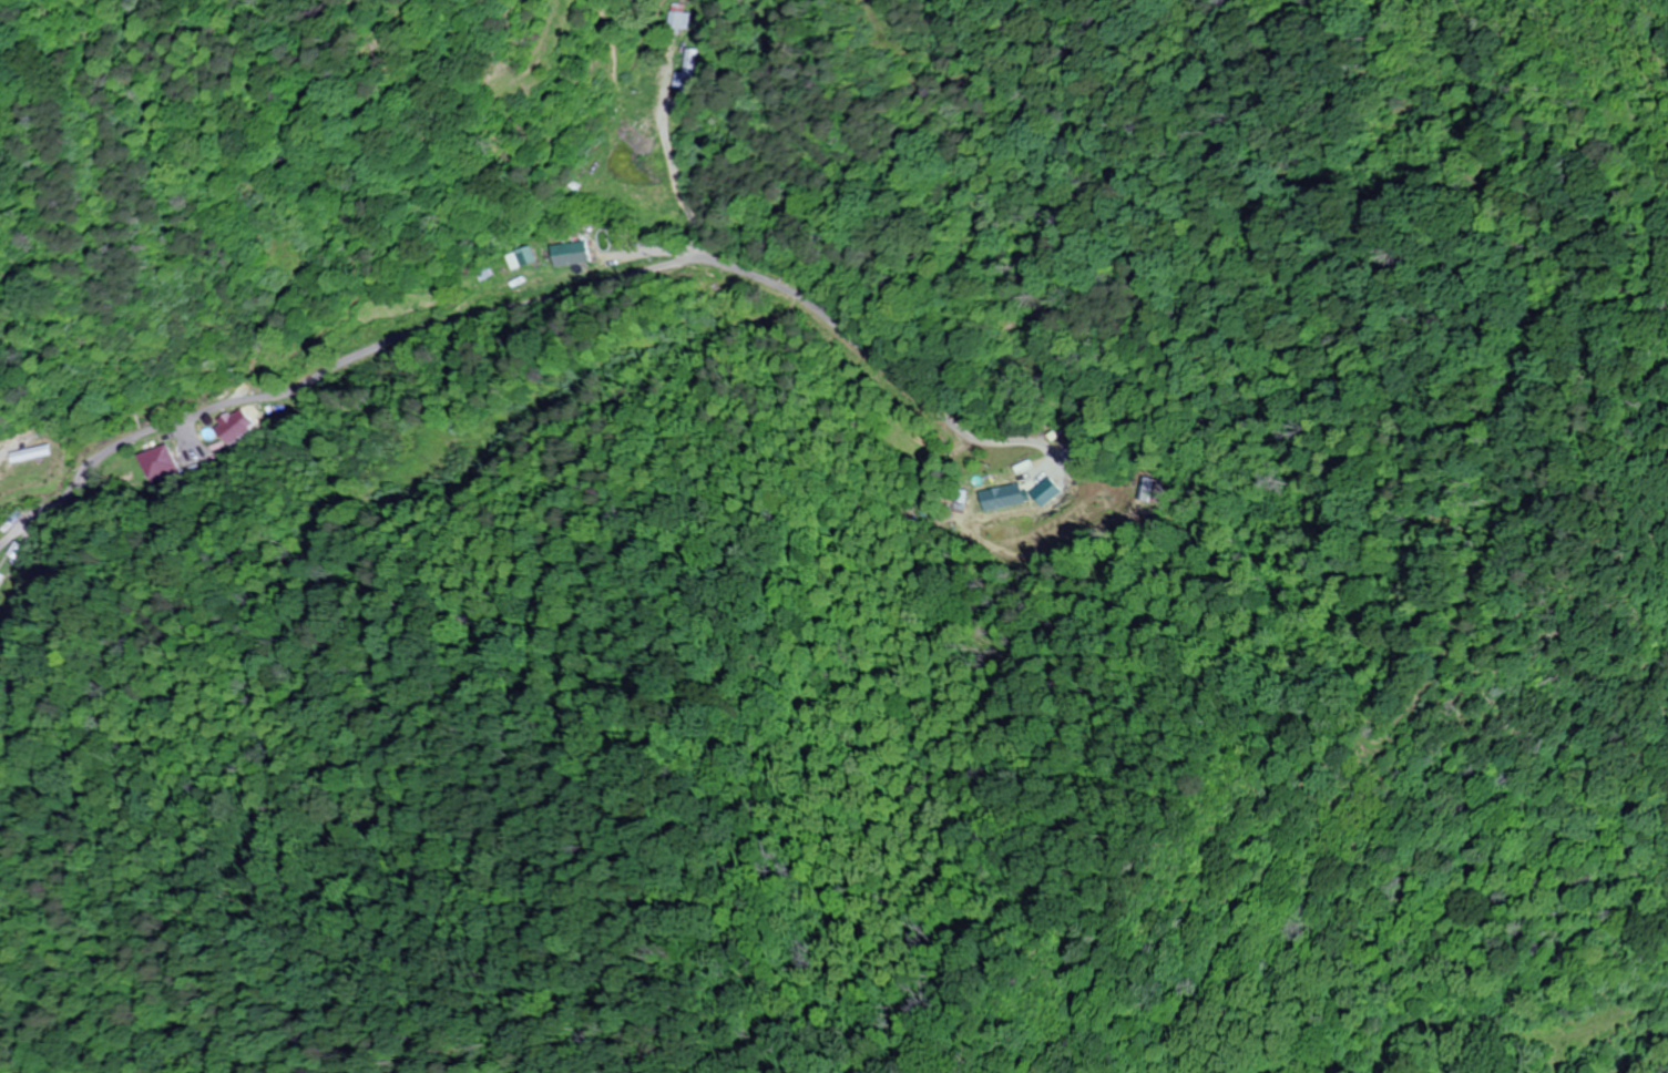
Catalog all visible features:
building: (675, 21)
building: (688, 71)
building: (571, 254)
building: (526, 256)
road: (418, 323)
building: (235, 425)
building: (160, 462)
building: (994, 494)
building: (22, 550)
building: (2, 584)
road: (1460, 644)

